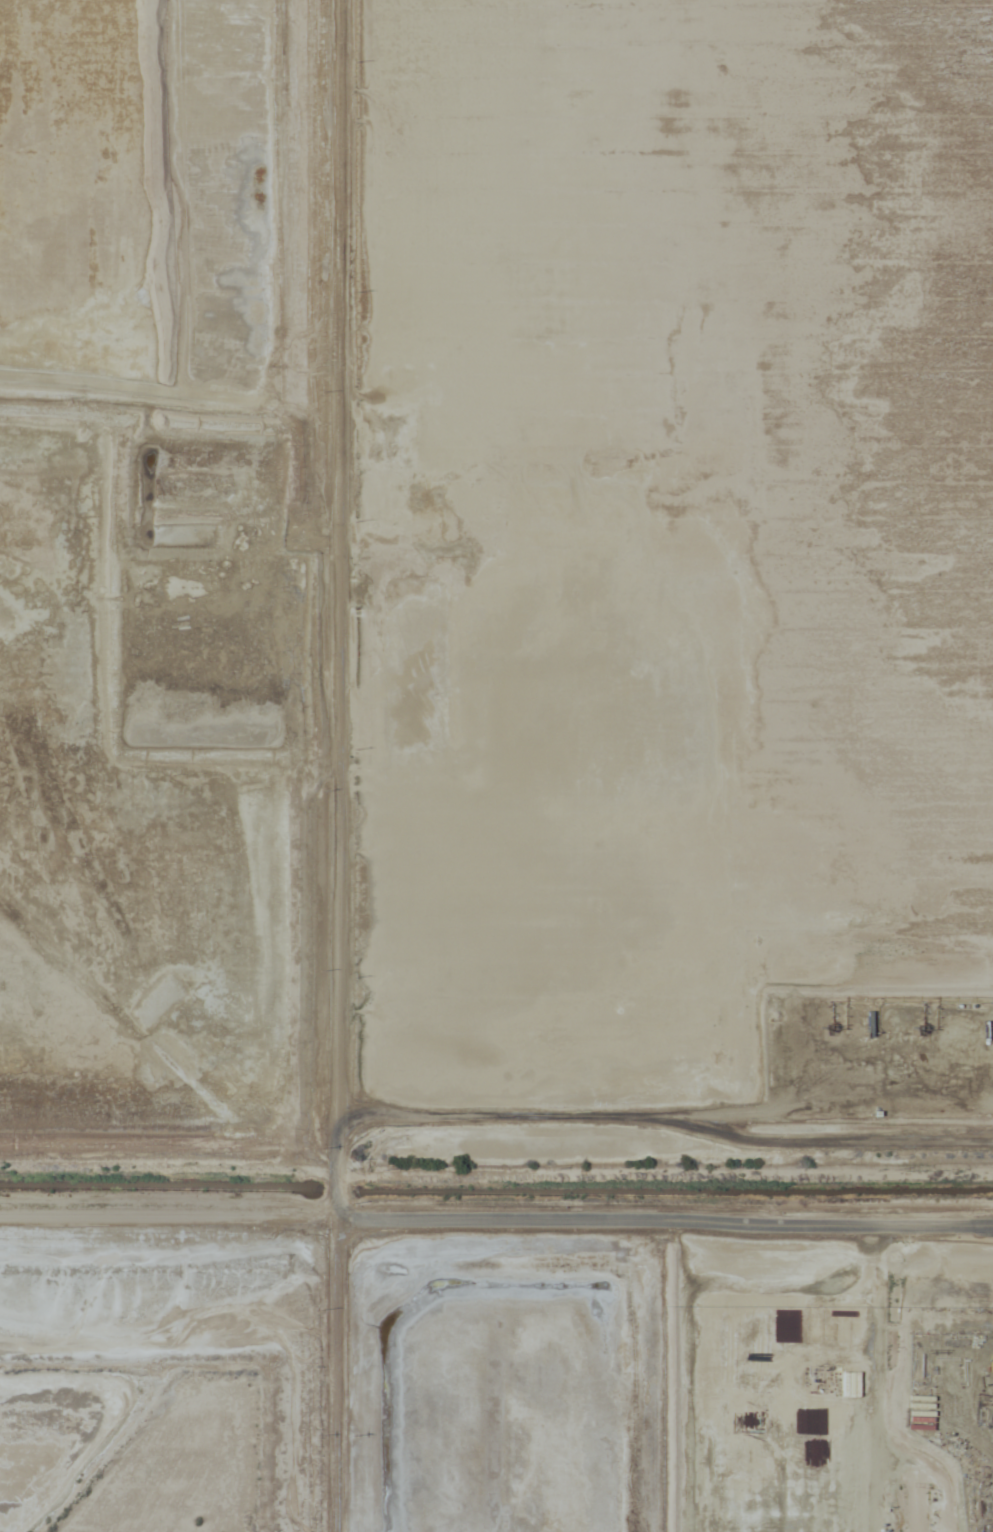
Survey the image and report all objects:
road: (340, 765)
road: (664, 1120)
road: (496, 1210)
building: (766, 1496)
building: (911, 1506)

